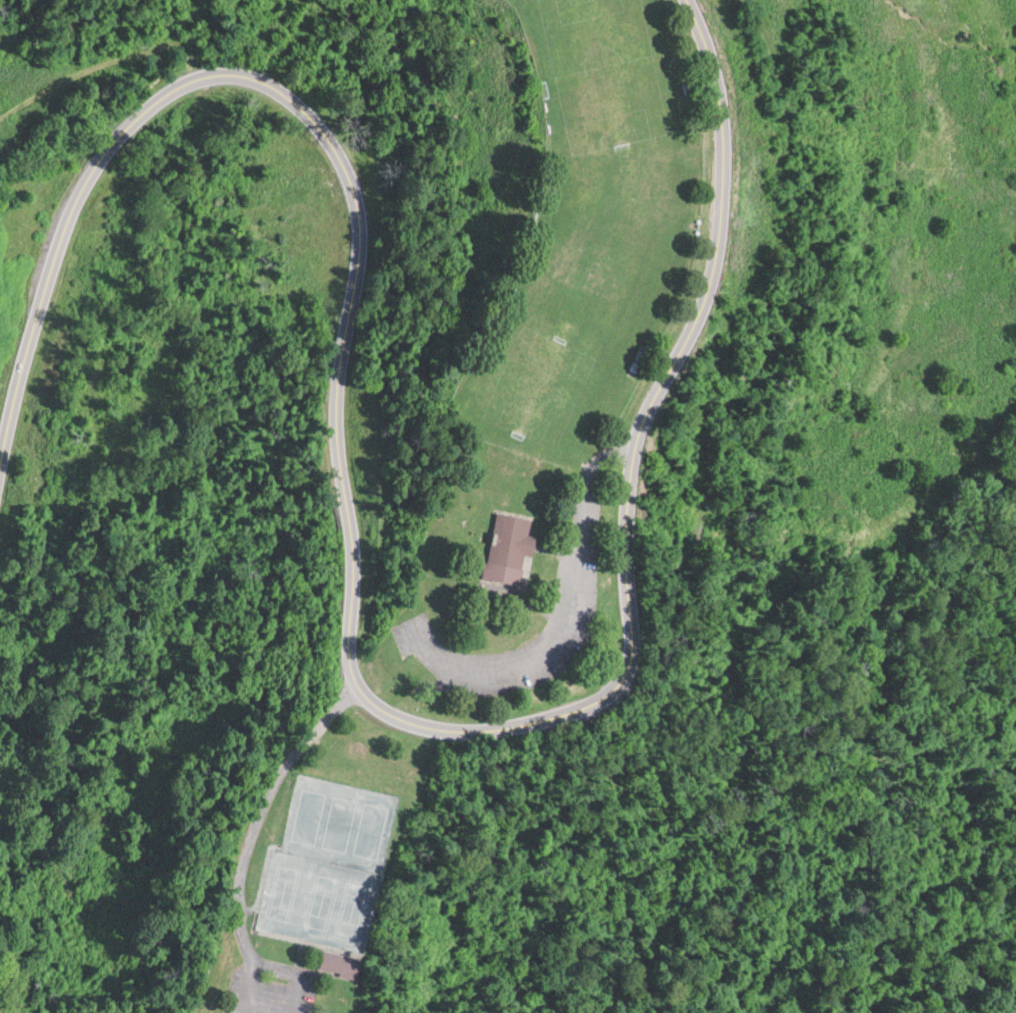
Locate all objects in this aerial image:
park: (605, 74)
park: (553, 351)
building: (505, 549)
road: (347, 609)
road: (574, 616)
park: (306, 815)
park: (339, 821)
park: (371, 828)
road: (252, 833)
park: (284, 890)
park: (321, 898)
park: (355, 906)
building: (344, 963)
road: (295, 974)
road: (274, 988)

